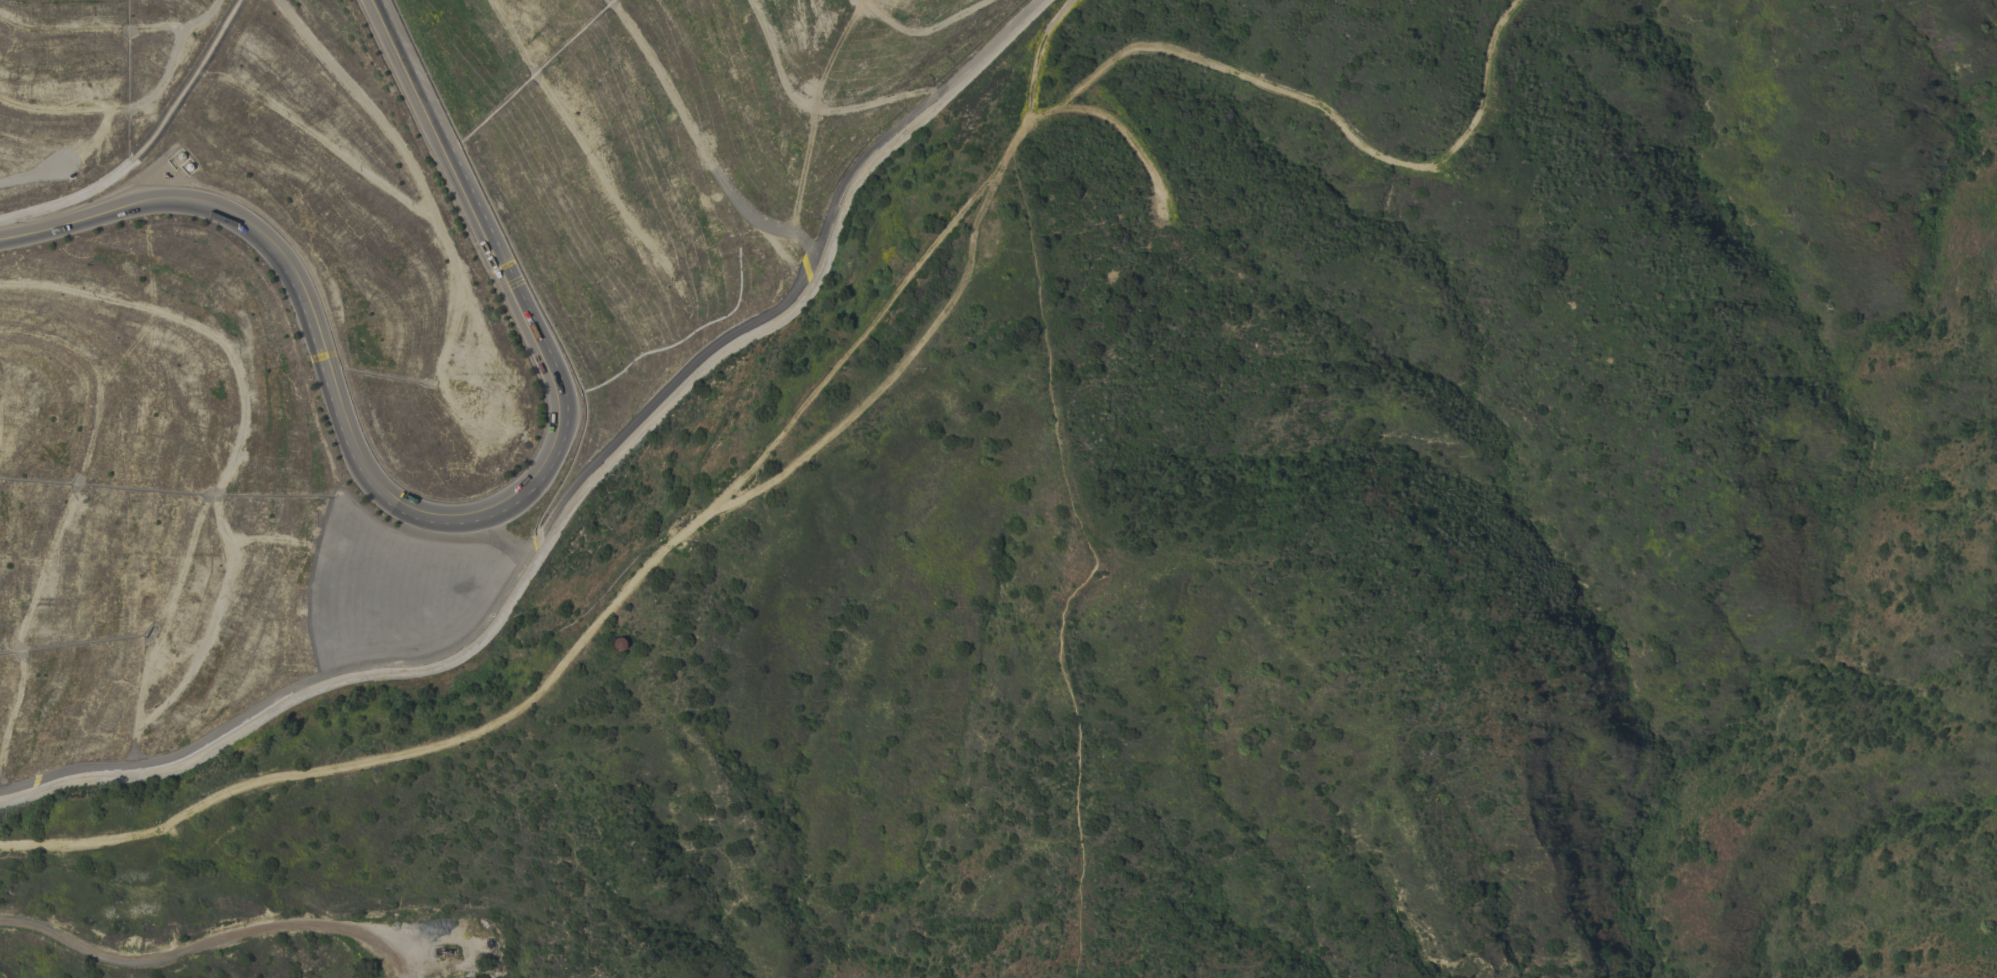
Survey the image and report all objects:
landfill: (378, 316)
landfill: (378, 316)
road: (569, 507)
road: (444, 516)
road: (641, 573)
road: (209, 942)
petroleum well: (442, 949)

